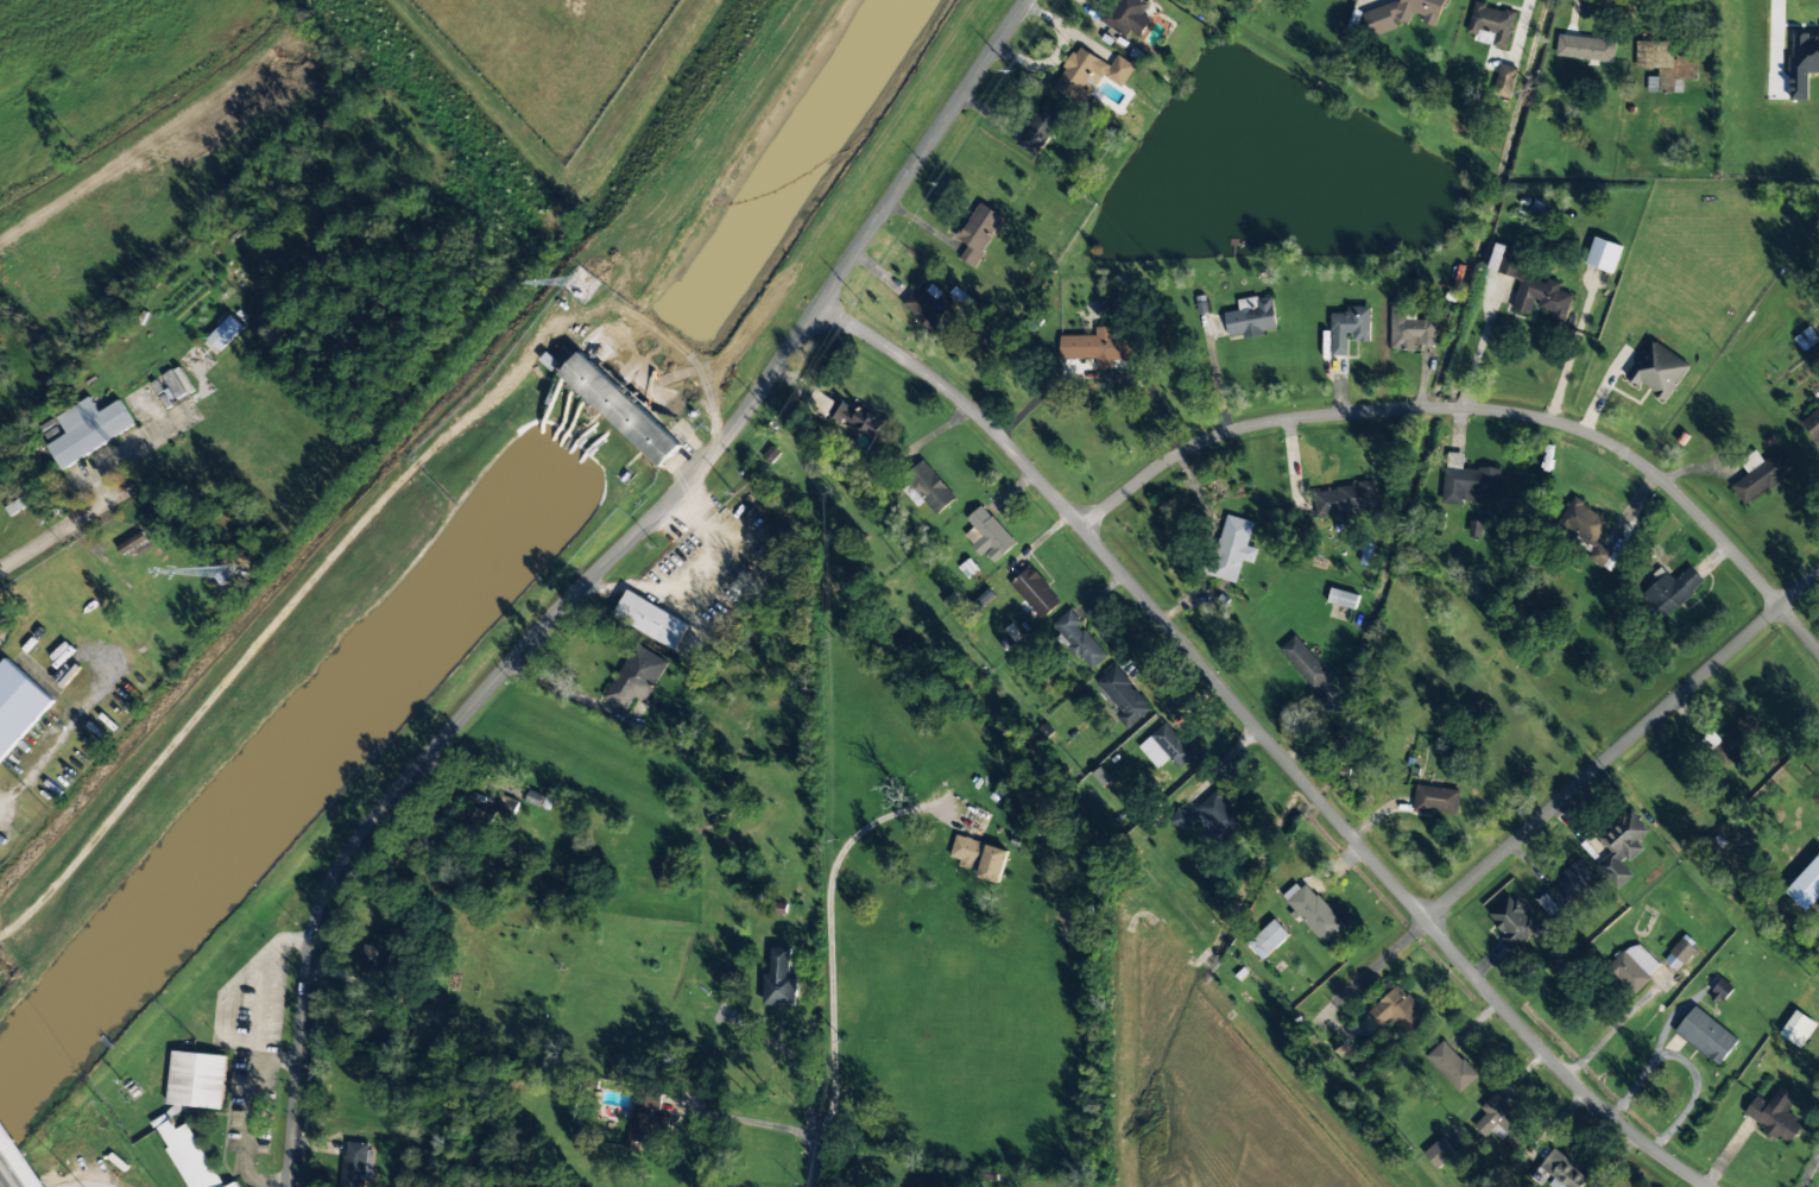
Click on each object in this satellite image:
building: (1402, 13)
building: (1126, 17)
building: (1490, 24)
building: (1584, 46)
building: (1802, 63)
building: (1087, 72)
building: (1504, 81)
building: (1040, 126)
building: (978, 232)
building: (1603, 254)
building: (1529, 285)
building: (924, 308)
building: (1251, 318)
building: (1347, 328)
building: (1409, 328)
building: (225, 333)
building: (1098, 346)
building: (1657, 370)
building: (817, 404)
building: (630, 409)
road: (1479, 411)
building: (860, 418)
building: (1813, 423)
building: (88, 429)
building: (1760, 478)
building: (1466, 480)
building: (926, 488)
building: (1344, 499)
building: (17, 506)
road: (63, 528)
building: (1585, 528)
building: (1476, 529)
building: (987, 535)
building: (132, 543)
building: (1231, 548)
road: (599, 573)
building: (1670, 591)
building: (1035, 592)
building: (984, 598)
building: (1343, 598)
building: (78, 600)
building: (650, 619)
building: (1078, 639)
building: (1305, 662)
building: (633, 678)
building: (1123, 696)
building: (17, 705)
road: (1269, 739)
building: (1729, 740)
building: (1171, 745)
building: (510, 790)
road: (1567, 795)
building: (1815, 797)
building: (1435, 798)
building: (538, 800)
building: (1219, 815)
building: (979, 822)
building: (1619, 848)
building: (965, 851)
building: (992, 863)
building: (1806, 885)
building: (1564, 888)
building: (1314, 913)
building: (1511, 921)
building: (1268, 940)
building: (377, 952)
building: (1679, 954)
building: (1632, 966)
building: (779, 980)
building: (1720, 991)
building: (1397, 1010)
building: (1706, 1036)
building: (1451, 1066)
building: (196, 1079)
building: (1775, 1115)
building: (1501, 1119)
building: (645, 1124)
road: (813, 1149)
building: (1439, 1153)
building: (189, 1155)
building: (353, 1164)
building: (1560, 1170)
road: (4, 1181)
building: (233, 1185)

